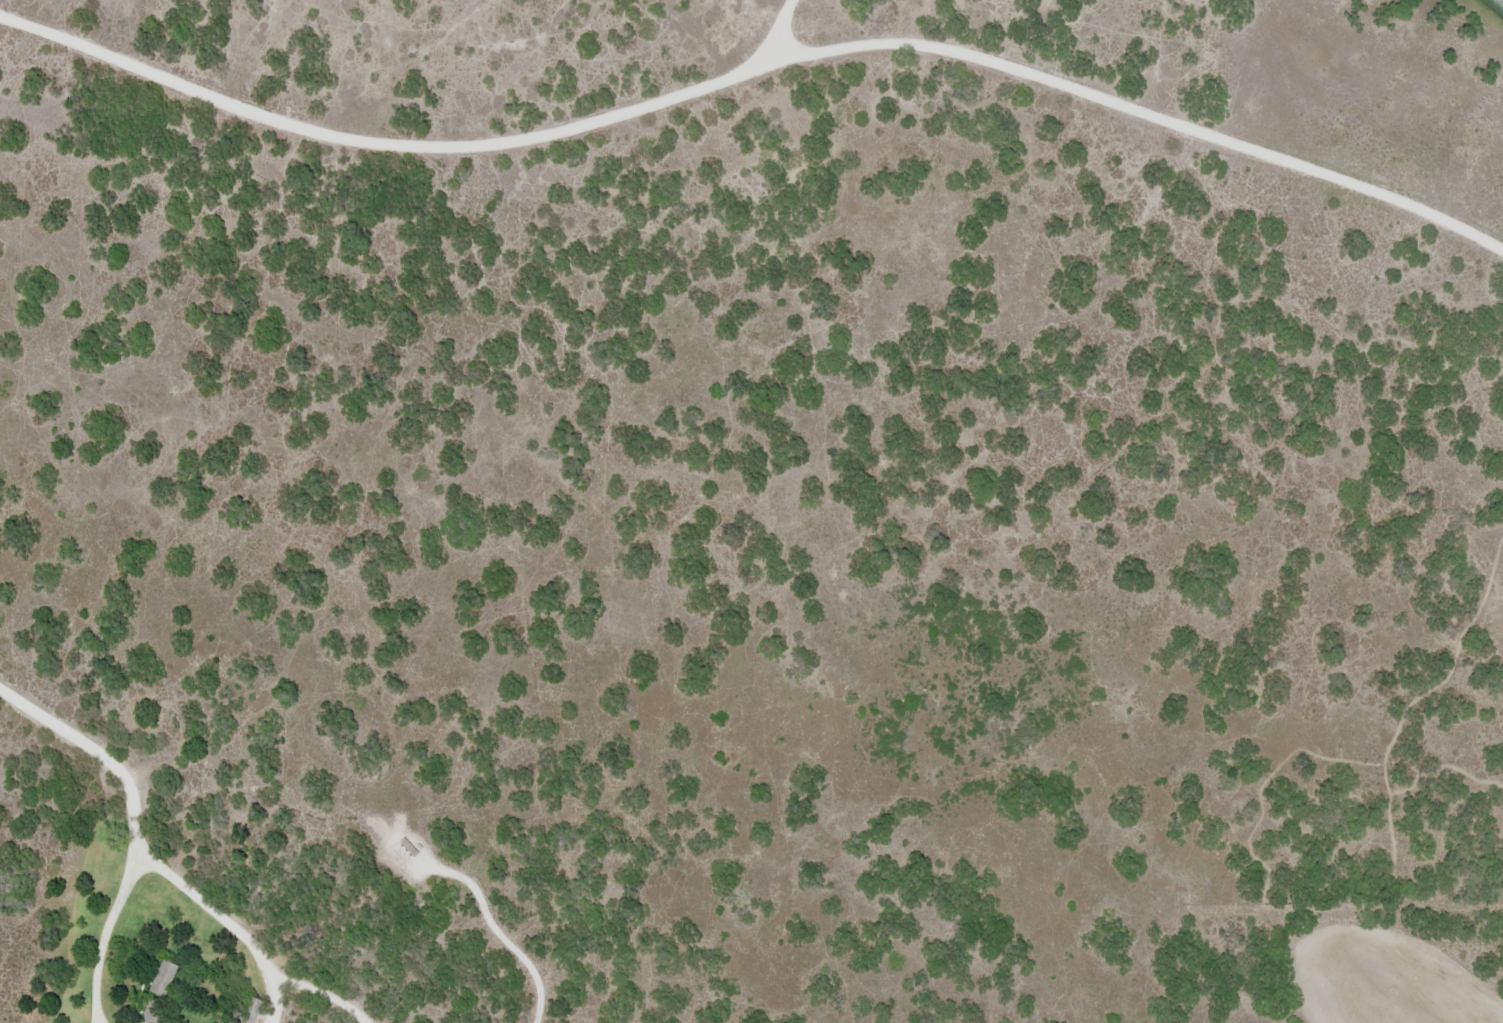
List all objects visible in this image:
road: (118, 777)
road: (809, 800)
road: (180, 919)
road: (112, 974)
building: (164, 978)

